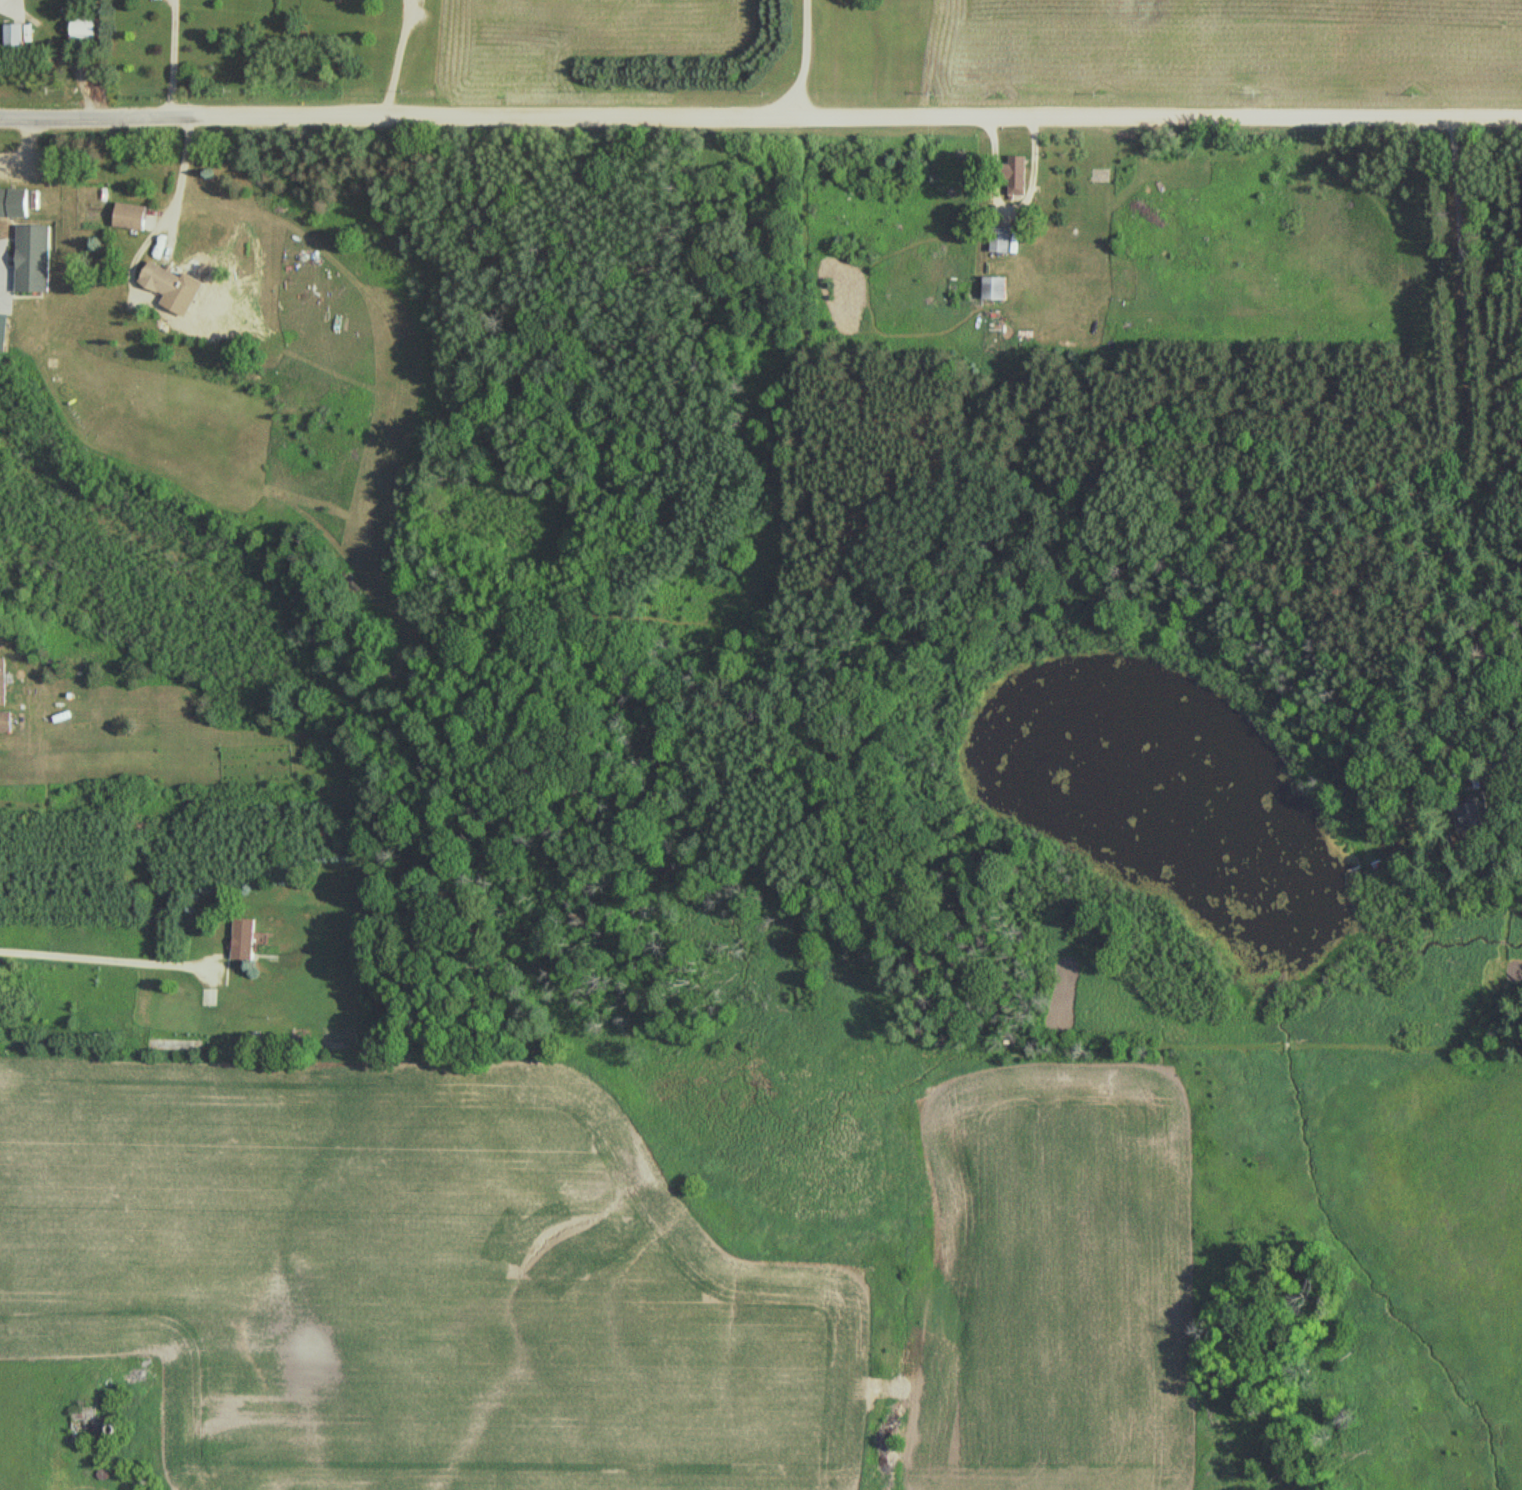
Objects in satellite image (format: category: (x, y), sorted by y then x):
building: (85, 28)
building: (15, 34)
road: (761, 107)
building: (1019, 176)
building: (14, 202)
building: (132, 216)
building: (1006, 240)
building: (33, 258)
building: (163, 280)
building: (998, 289)
road: (1471, 433)
building: (3, 679)
building: (6, 720)
building: (1474, 816)
building: (246, 940)
building: (173, 1042)
building: (89, 1425)

